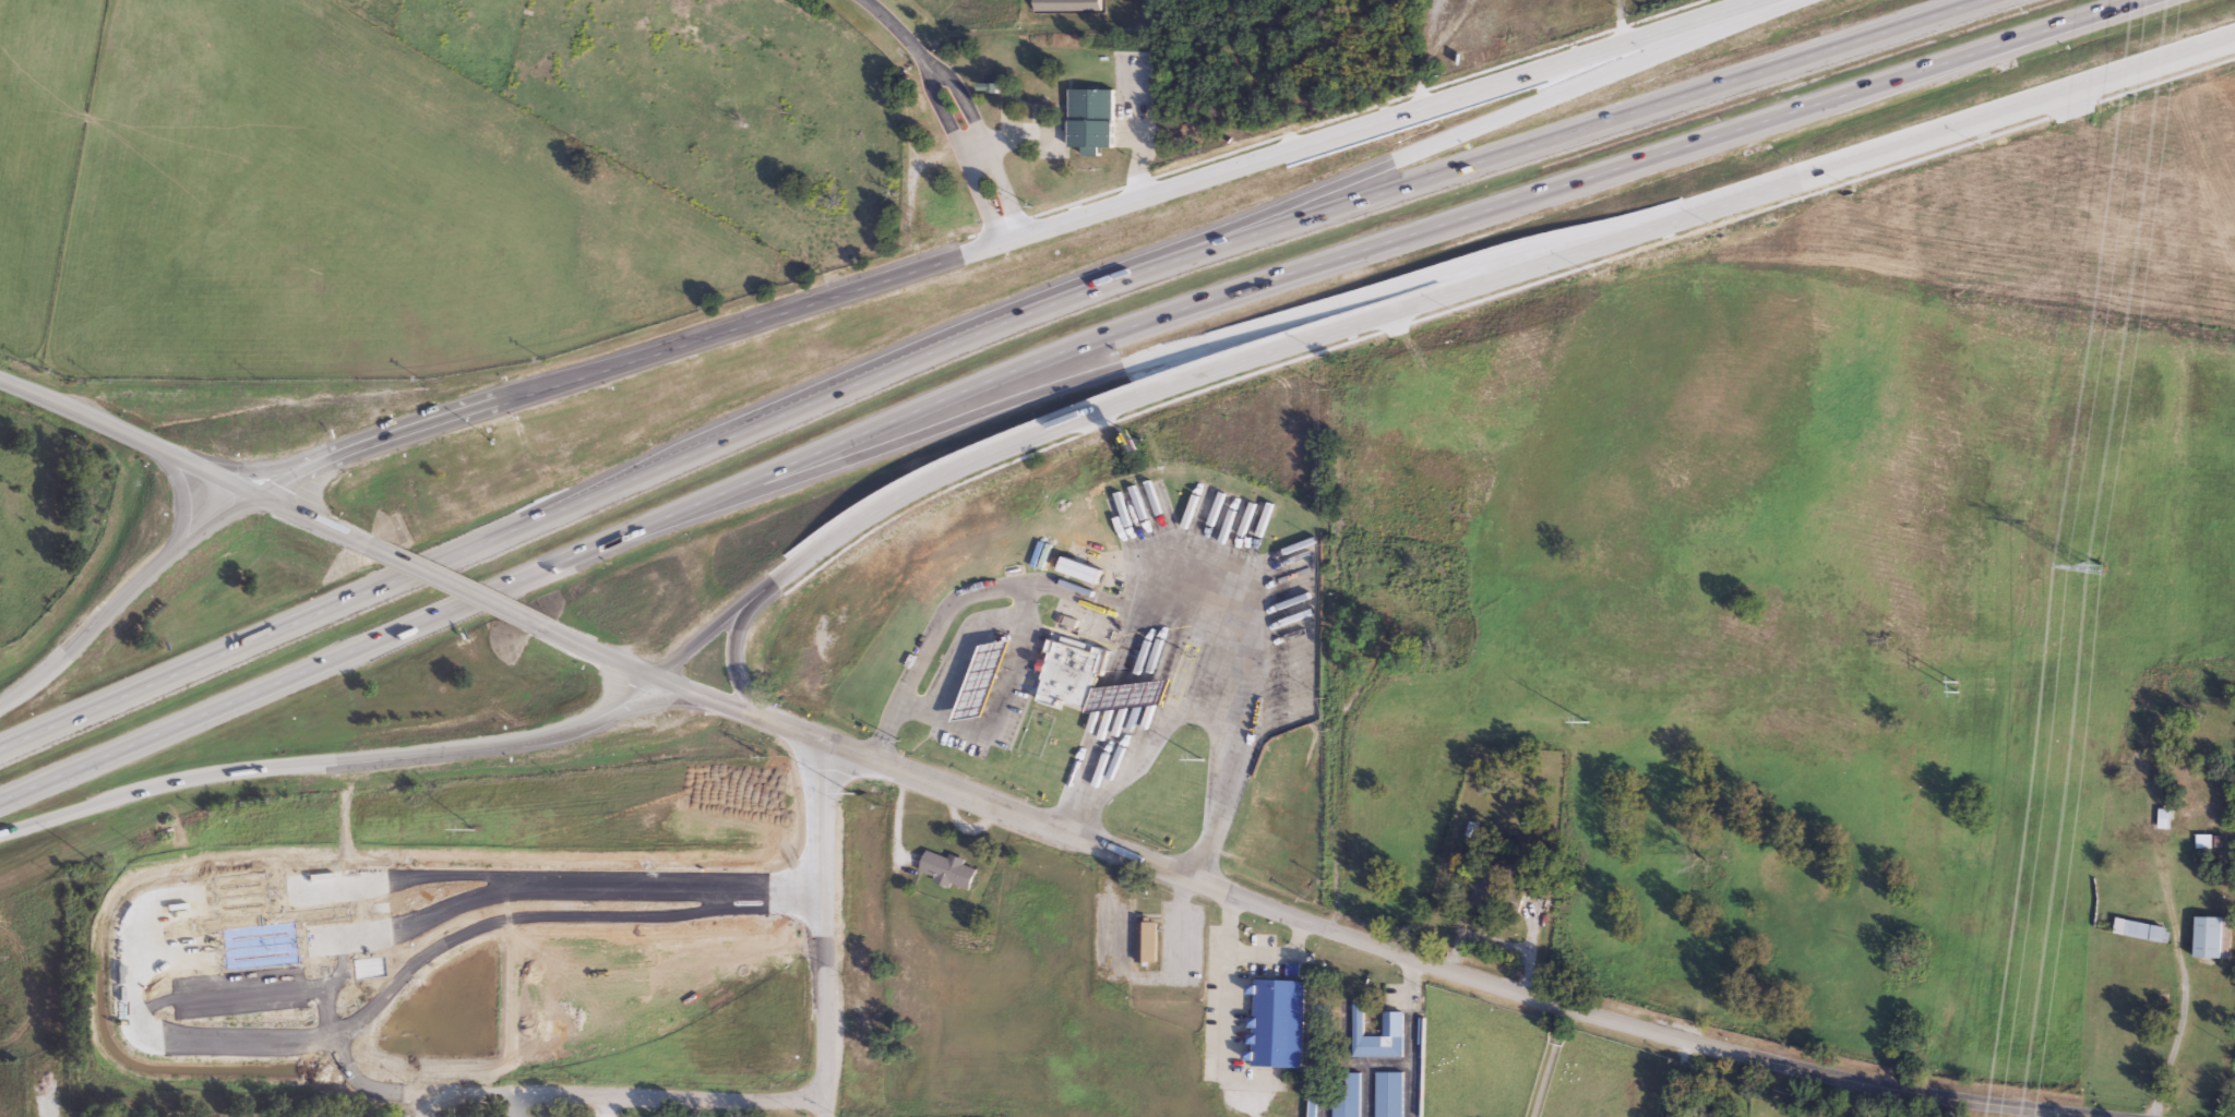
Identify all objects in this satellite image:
road: (895, 27)
road: (1339, 118)
road: (1398, 119)
building: (1088, 121)
road: (981, 142)
road: (958, 153)
road: (1236, 240)
road: (1358, 248)
road: (1156, 253)
road: (1496, 296)
road: (1418, 305)
road: (1169, 351)
road: (637, 361)
road: (129, 435)
road: (262, 471)
road: (186, 506)
road: (301, 520)
road: (1145, 561)
road: (437, 562)
power tower: (2092, 570)
building: (1078, 572)
road: (442, 584)
road: (488, 592)
road: (124, 600)
building: (1411, 617)
road: (594, 651)
road: (736, 665)
road: (178, 672)
building: (985, 677)
power tower: (1961, 682)
building: (1099, 683)
road: (719, 701)
road: (1000, 705)
road: (191, 718)
power tower: (1591, 720)
road: (596, 723)
road: (560, 728)
road: (1131, 740)
power tower: (1202, 758)
road: (224, 773)
power tower: (854, 794)
building: (2208, 797)
building: (2173, 815)
power tower: (476, 828)
power tower: (103, 867)
building: (945, 870)
building: (1494, 894)
road: (824, 929)
building: (2140, 932)
building: (2209, 938)
building: (1142, 942)
road: (1274, 949)
road: (1434, 965)
road: (2176, 983)
road: (1229, 985)
road: (133, 988)
building: (1275, 1024)
building: (1390, 1024)
road: (1409, 1037)
road: (1547, 1061)
building: (1386, 1094)
road: (635, 1095)
building: (1346, 1097)
road: (435, 1106)

